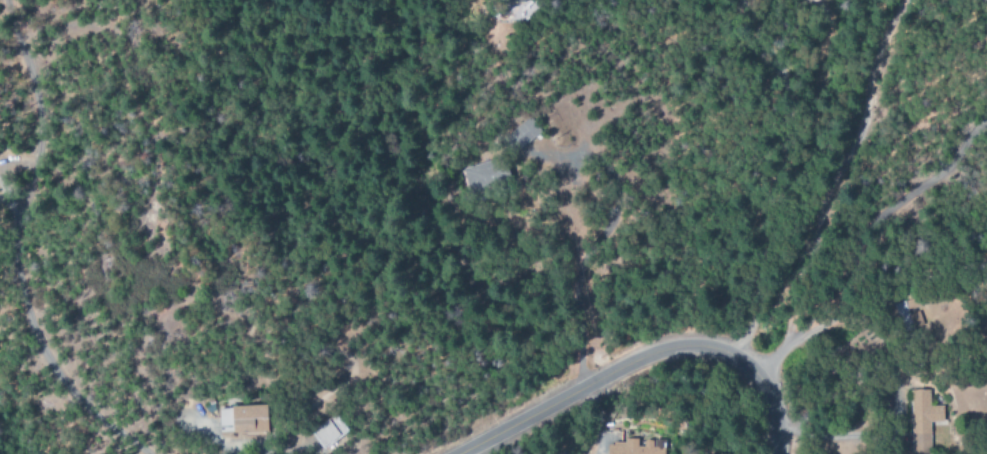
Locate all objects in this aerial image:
building: (511, 0)
building: (524, 133)
building: (481, 178)
road: (643, 356)
building: (244, 419)
building: (923, 420)
building: (631, 447)

